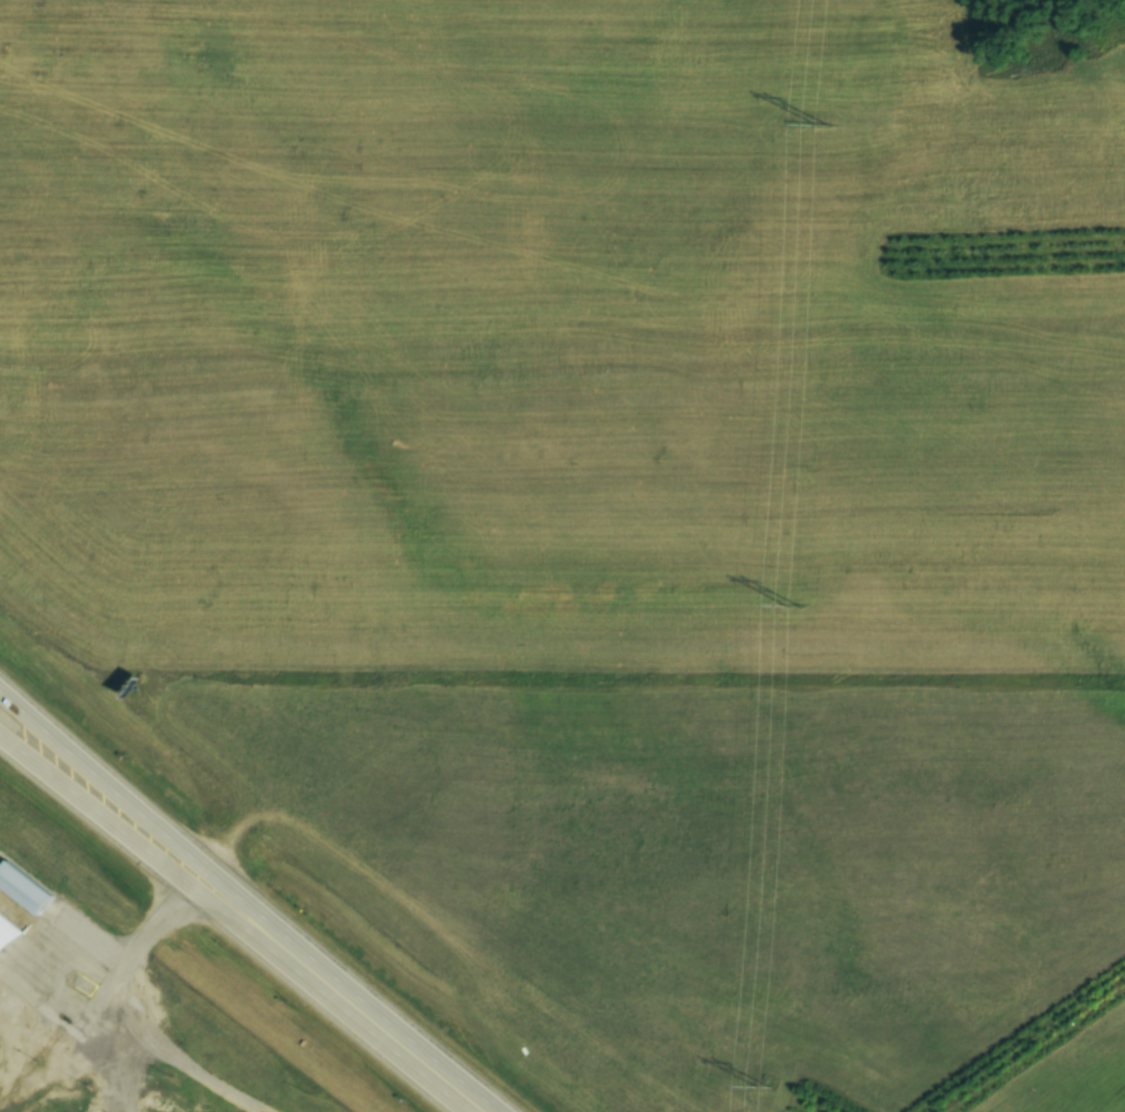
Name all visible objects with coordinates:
power tower: (815, 125)
power tower: (786, 607)
road: (170, 843)
road: (164, 871)
building: (3, 950)
road: (408, 1053)
power tower: (758, 1087)

